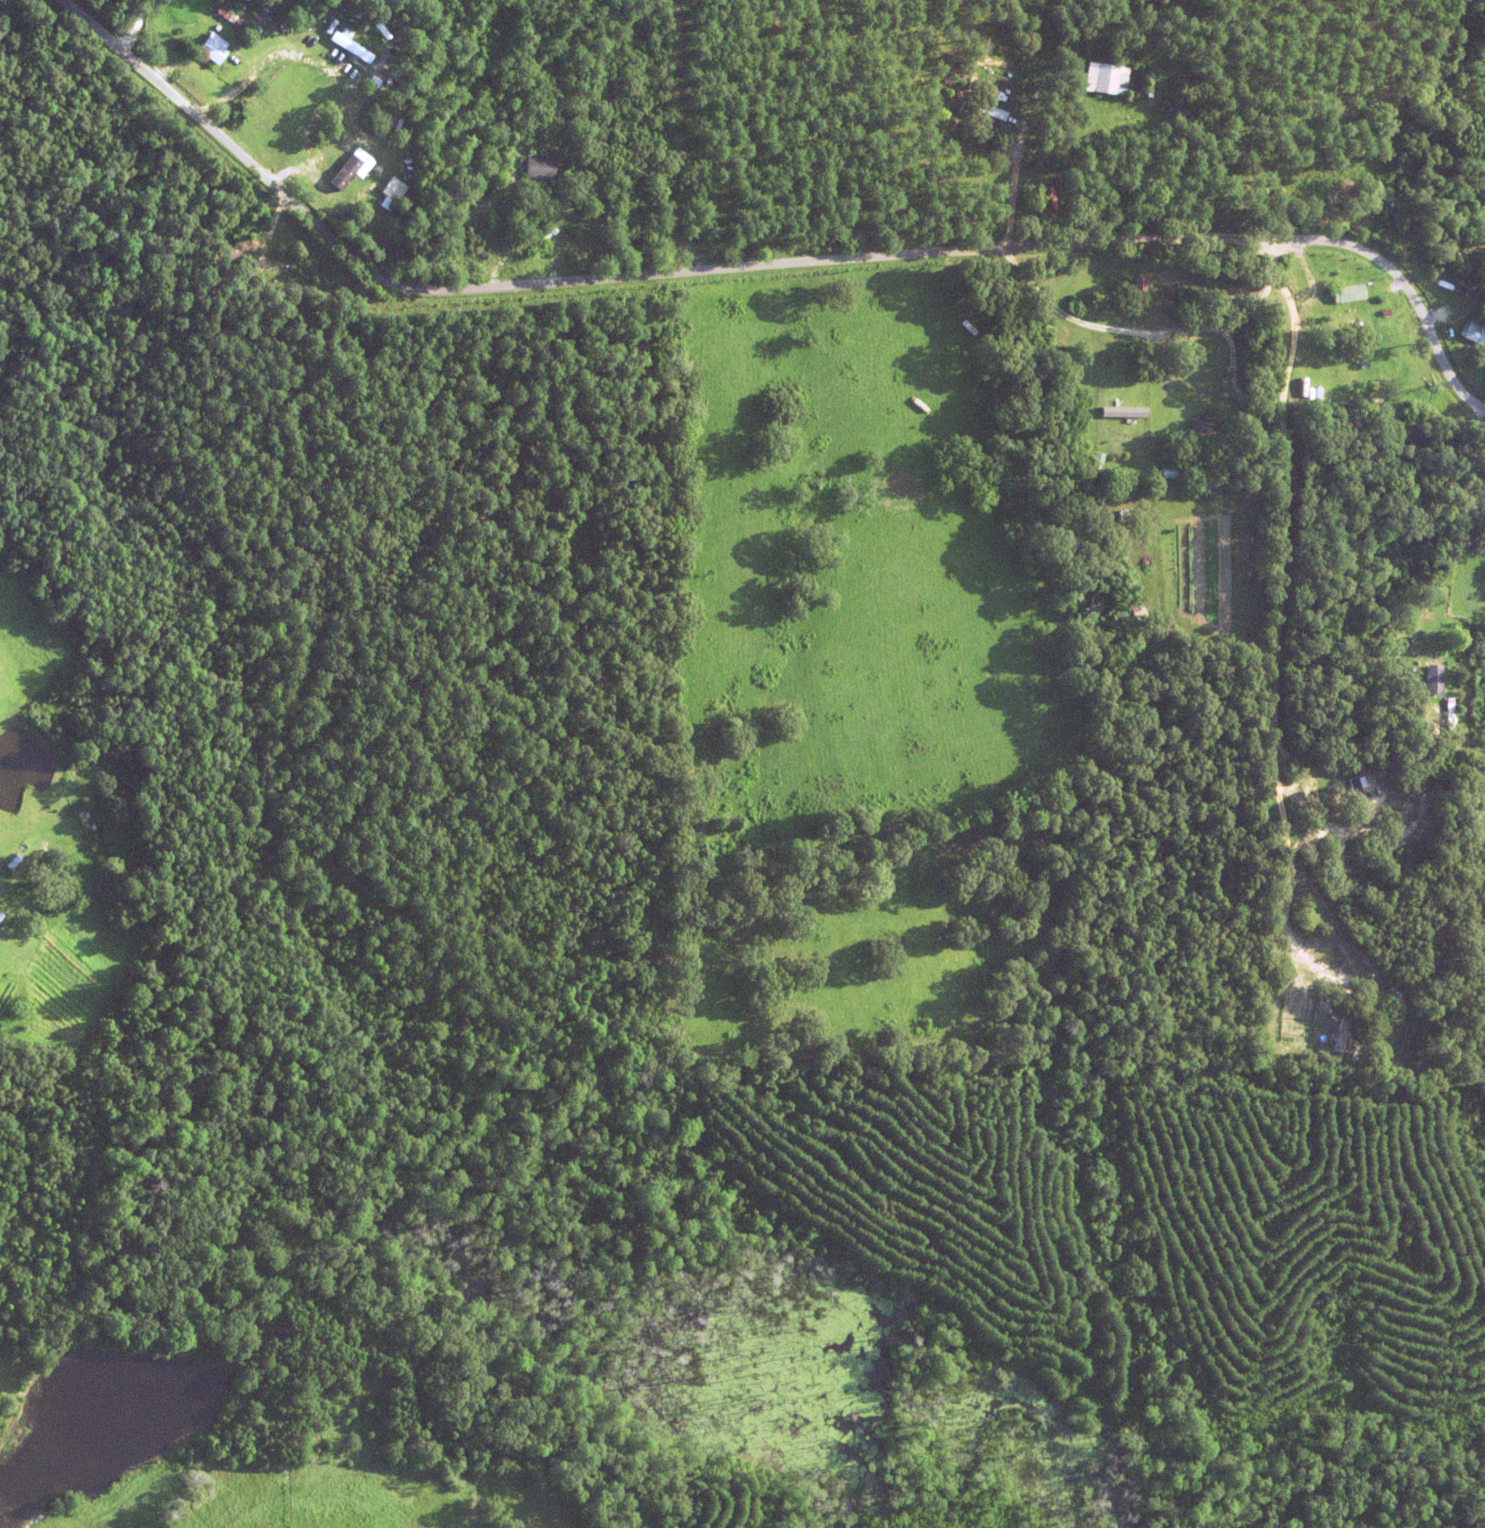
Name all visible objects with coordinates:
building: (226, 13)
building: (260, 14)
building: (201, 18)
building: (349, 46)
building: (212, 49)
building: (1105, 79)
building: (970, 84)
building: (1149, 84)
building: (981, 115)
building: (1181, 115)
building: (361, 151)
building: (571, 166)
building: (538, 168)
building: (346, 173)
building: (388, 194)
road: (763, 263)
building: (1437, 278)
building: (973, 285)
building: (1346, 294)
building: (1139, 297)
building: (1383, 312)
building: (1320, 317)
road: (1111, 323)
building: (1321, 333)
building: (1471, 334)
building: (1368, 338)
building: (1379, 338)
building: (1122, 413)
building: (1201, 425)
building: (1392, 448)
building: (1136, 611)
building: (1433, 681)
building: (1449, 713)
building: (1416, 722)
building: (1336, 791)
building: (1356, 797)
building: (1390, 820)
building: (12, 864)
building: (1342, 1030)

